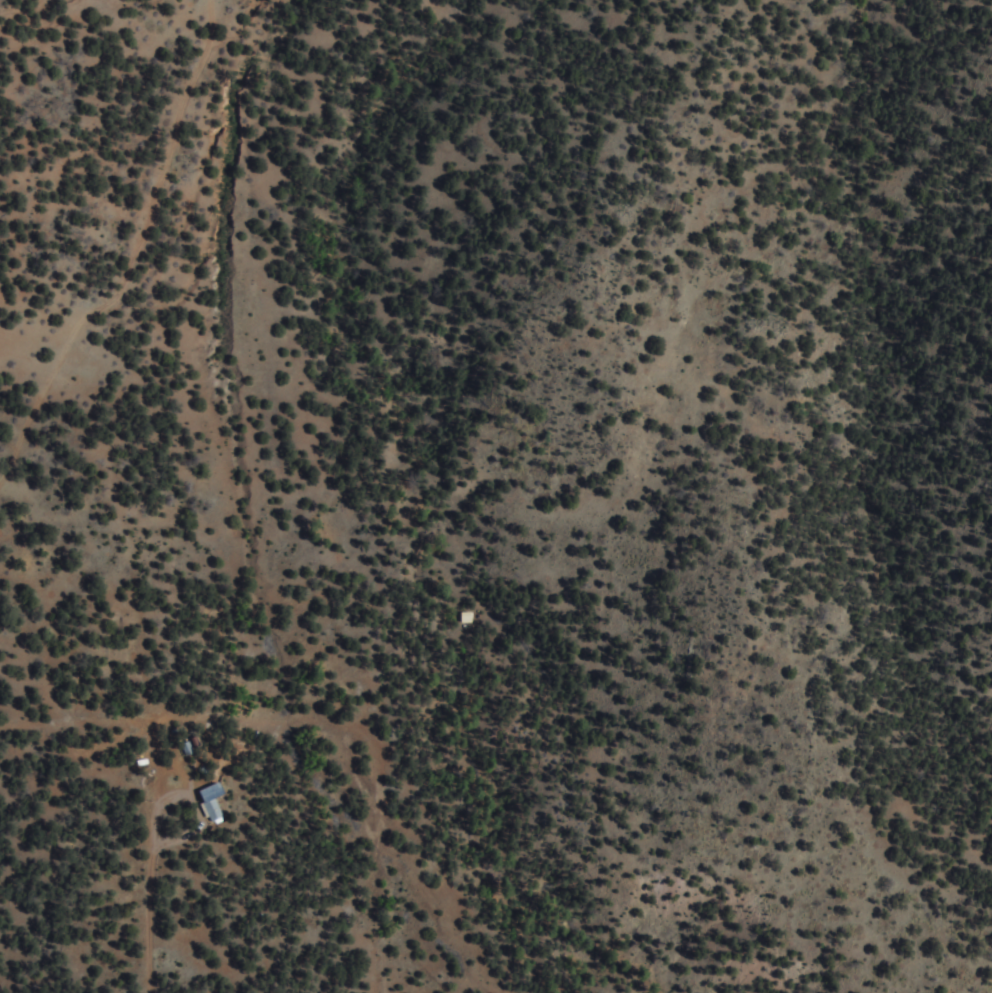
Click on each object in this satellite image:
road: (168, 716)
road: (73, 720)
building: (218, 809)
road: (369, 912)

